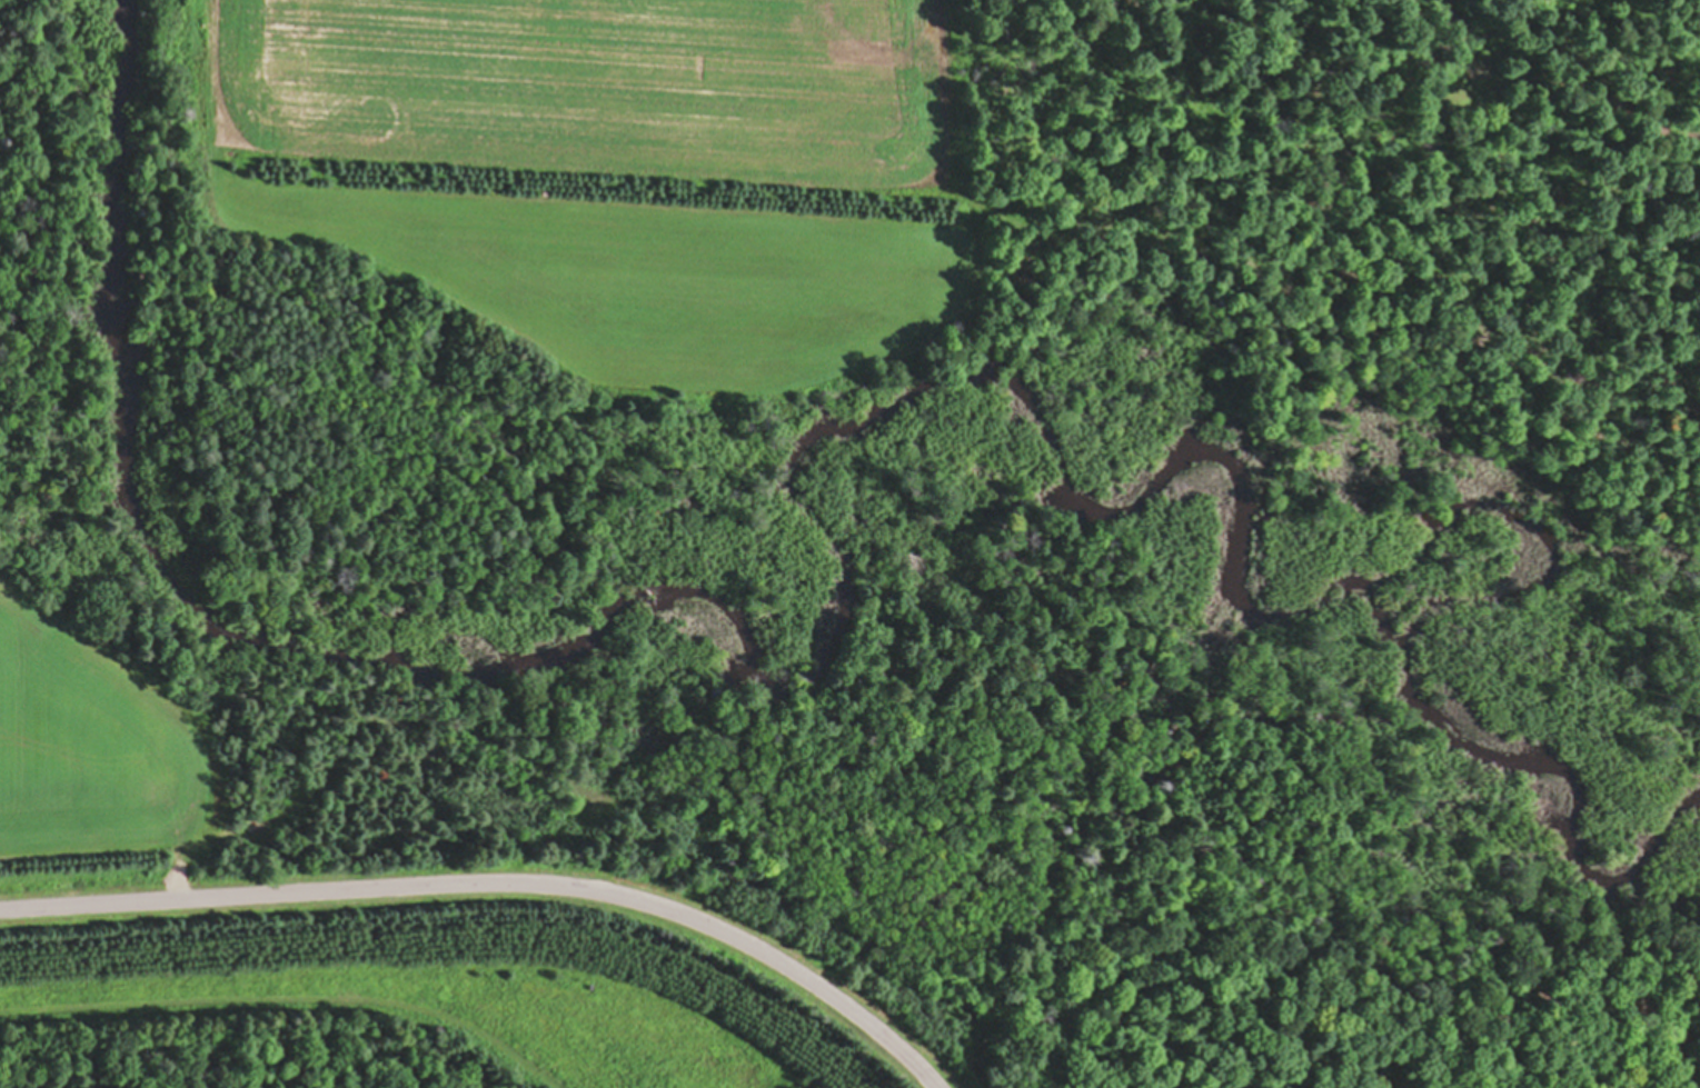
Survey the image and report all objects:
river: (821, 439)
road: (498, 881)

